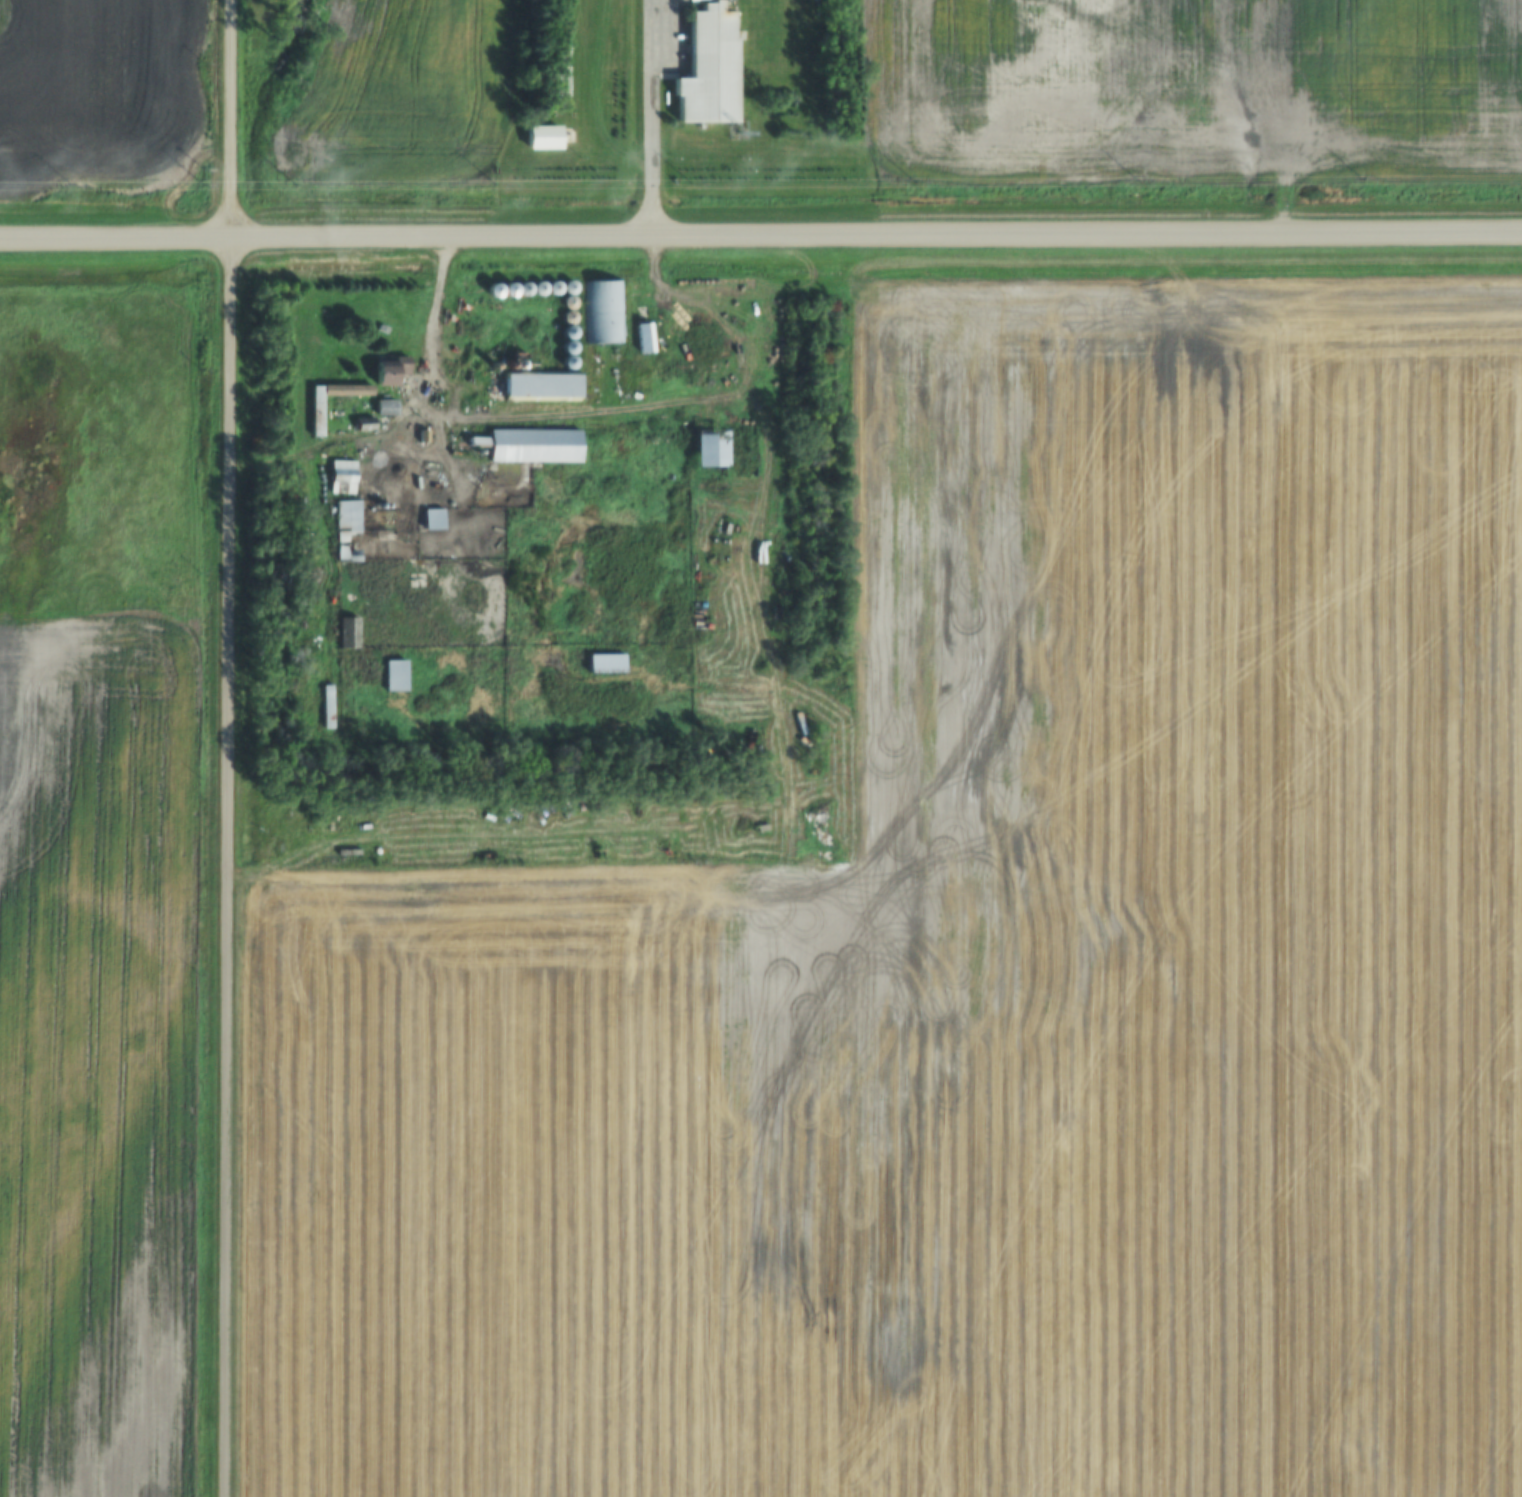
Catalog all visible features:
building: (707, 68)
road: (657, 118)
building: (541, 136)
road: (878, 234)
road: (117, 237)
building: (602, 312)
road: (444, 320)
building: (389, 369)
building: (541, 387)
building: (315, 416)
building: (533, 446)
building: (708, 448)
building: (341, 477)
building: (433, 477)
building: (431, 519)
building: (346, 531)
road: (319, 541)
building: (346, 632)
building: (604, 663)
building: (393, 675)
building: (326, 706)
road: (231, 748)

